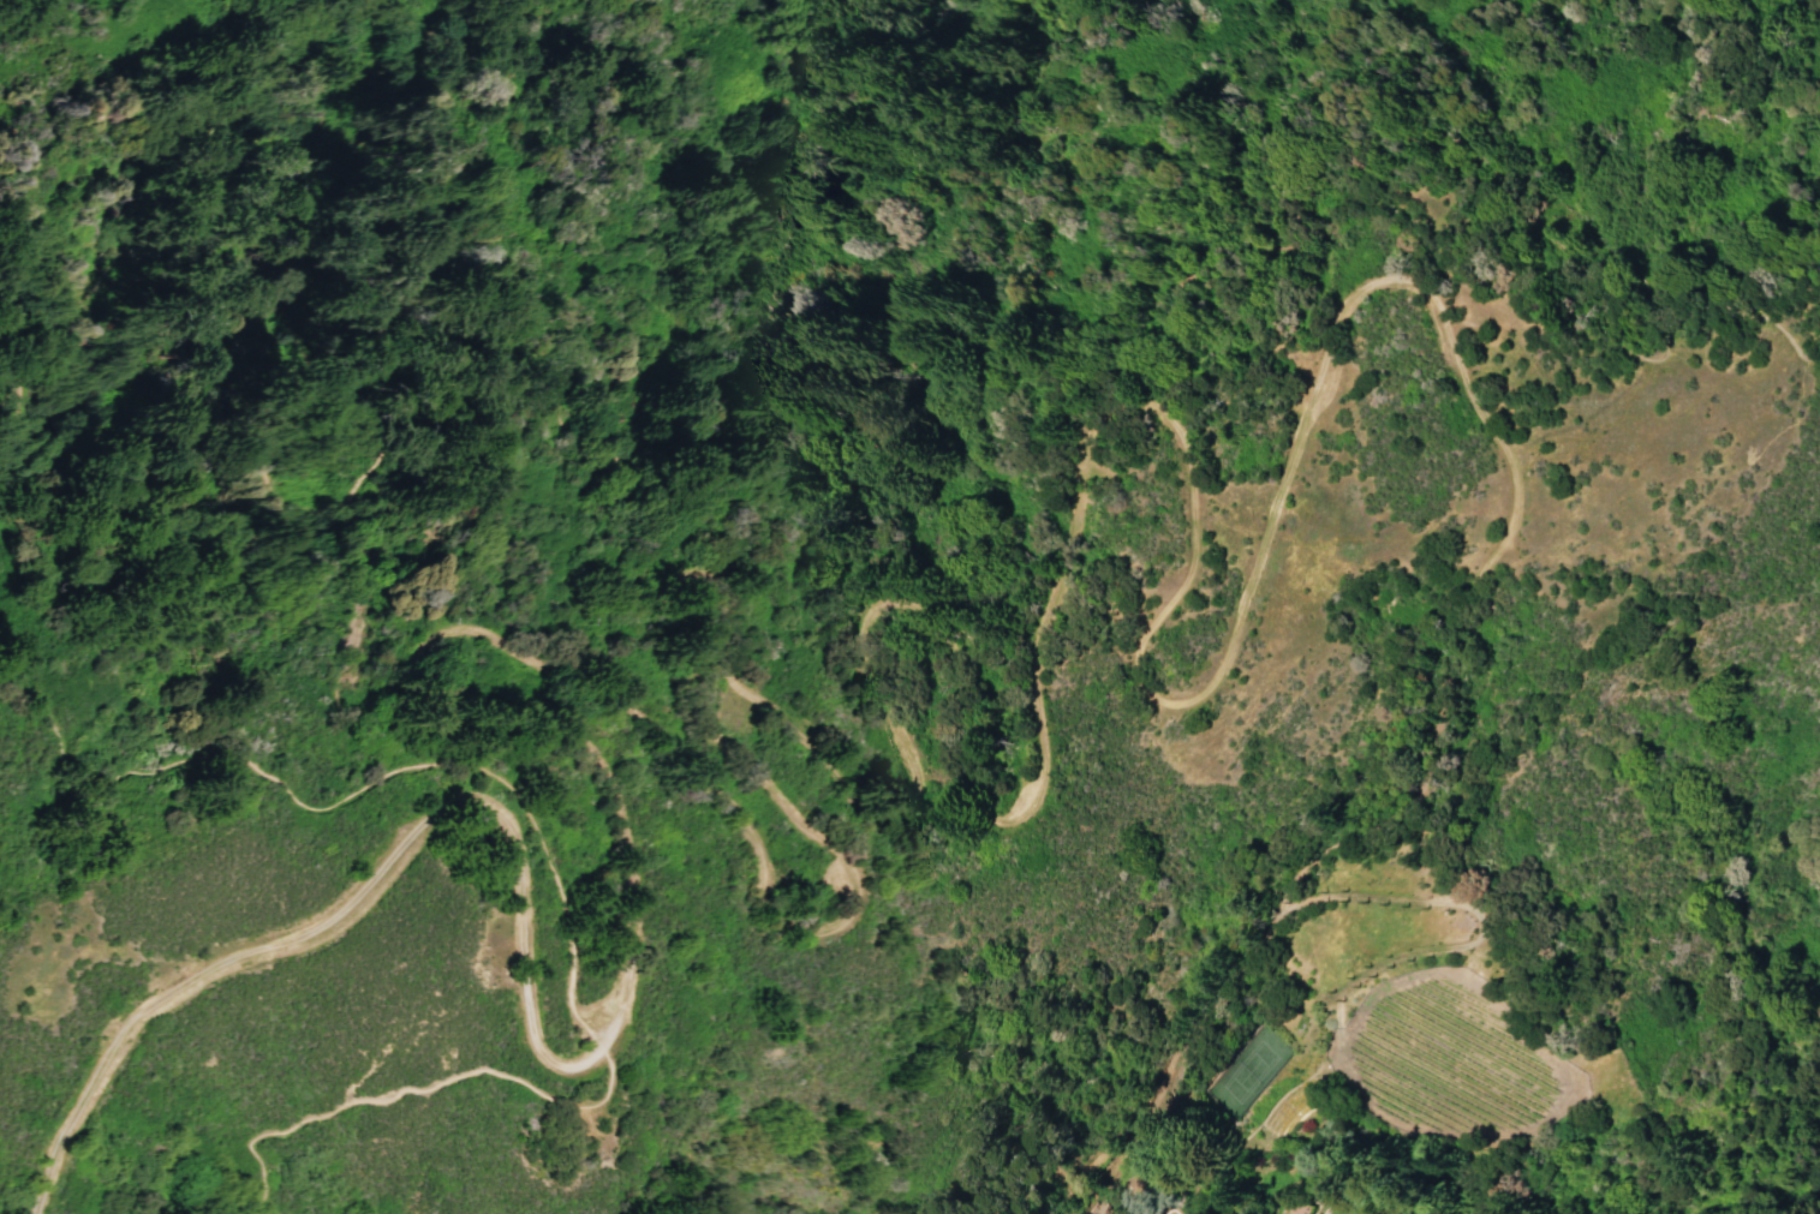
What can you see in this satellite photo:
road: (1777, 257)
road: (932, 447)
road: (699, 642)
road: (555, 867)
park: (1242, 1069)

